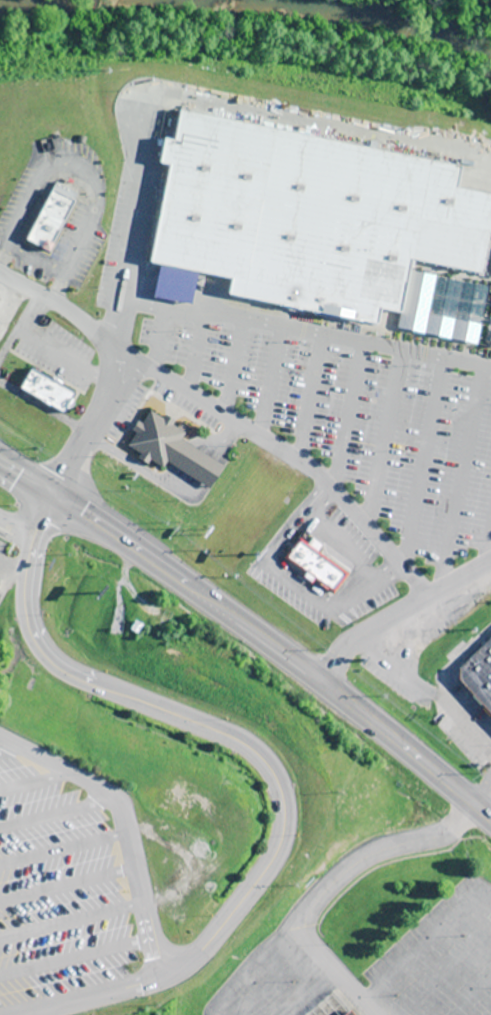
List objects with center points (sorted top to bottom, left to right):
river: (396, 16)
road: (82, 170)
building: (47, 216)
building: (316, 227)
road: (64, 307)
road: (53, 348)
parking lot: (54, 348)
building: (42, 391)
road: (104, 394)
road: (103, 413)
parking lot: (354, 423)
building: (171, 449)
road: (282, 449)
road: (27, 469)
building: (313, 562)
road: (399, 610)
road: (252, 628)
building: (478, 674)
road: (244, 741)
road: (126, 829)
road: (339, 876)
parking lot: (60, 887)
parking lot: (436, 962)
parking lot: (272, 983)
building: (342, 1014)

